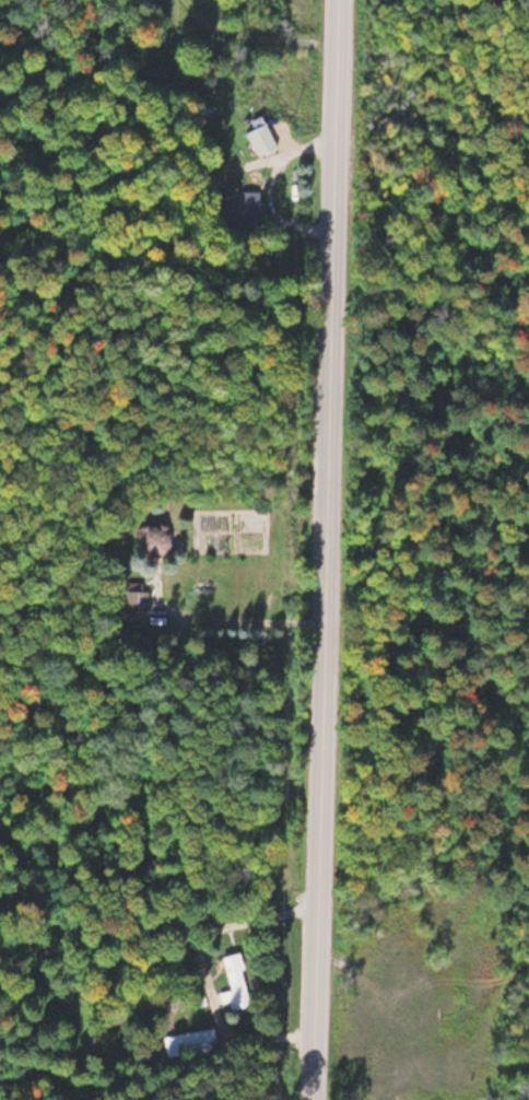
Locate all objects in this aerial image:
building: (262, 136)
building: (250, 207)
building: (152, 538)
road: (331, 550)
building: (134, 602)
building: (236, 982)
building: (197, 1040)

